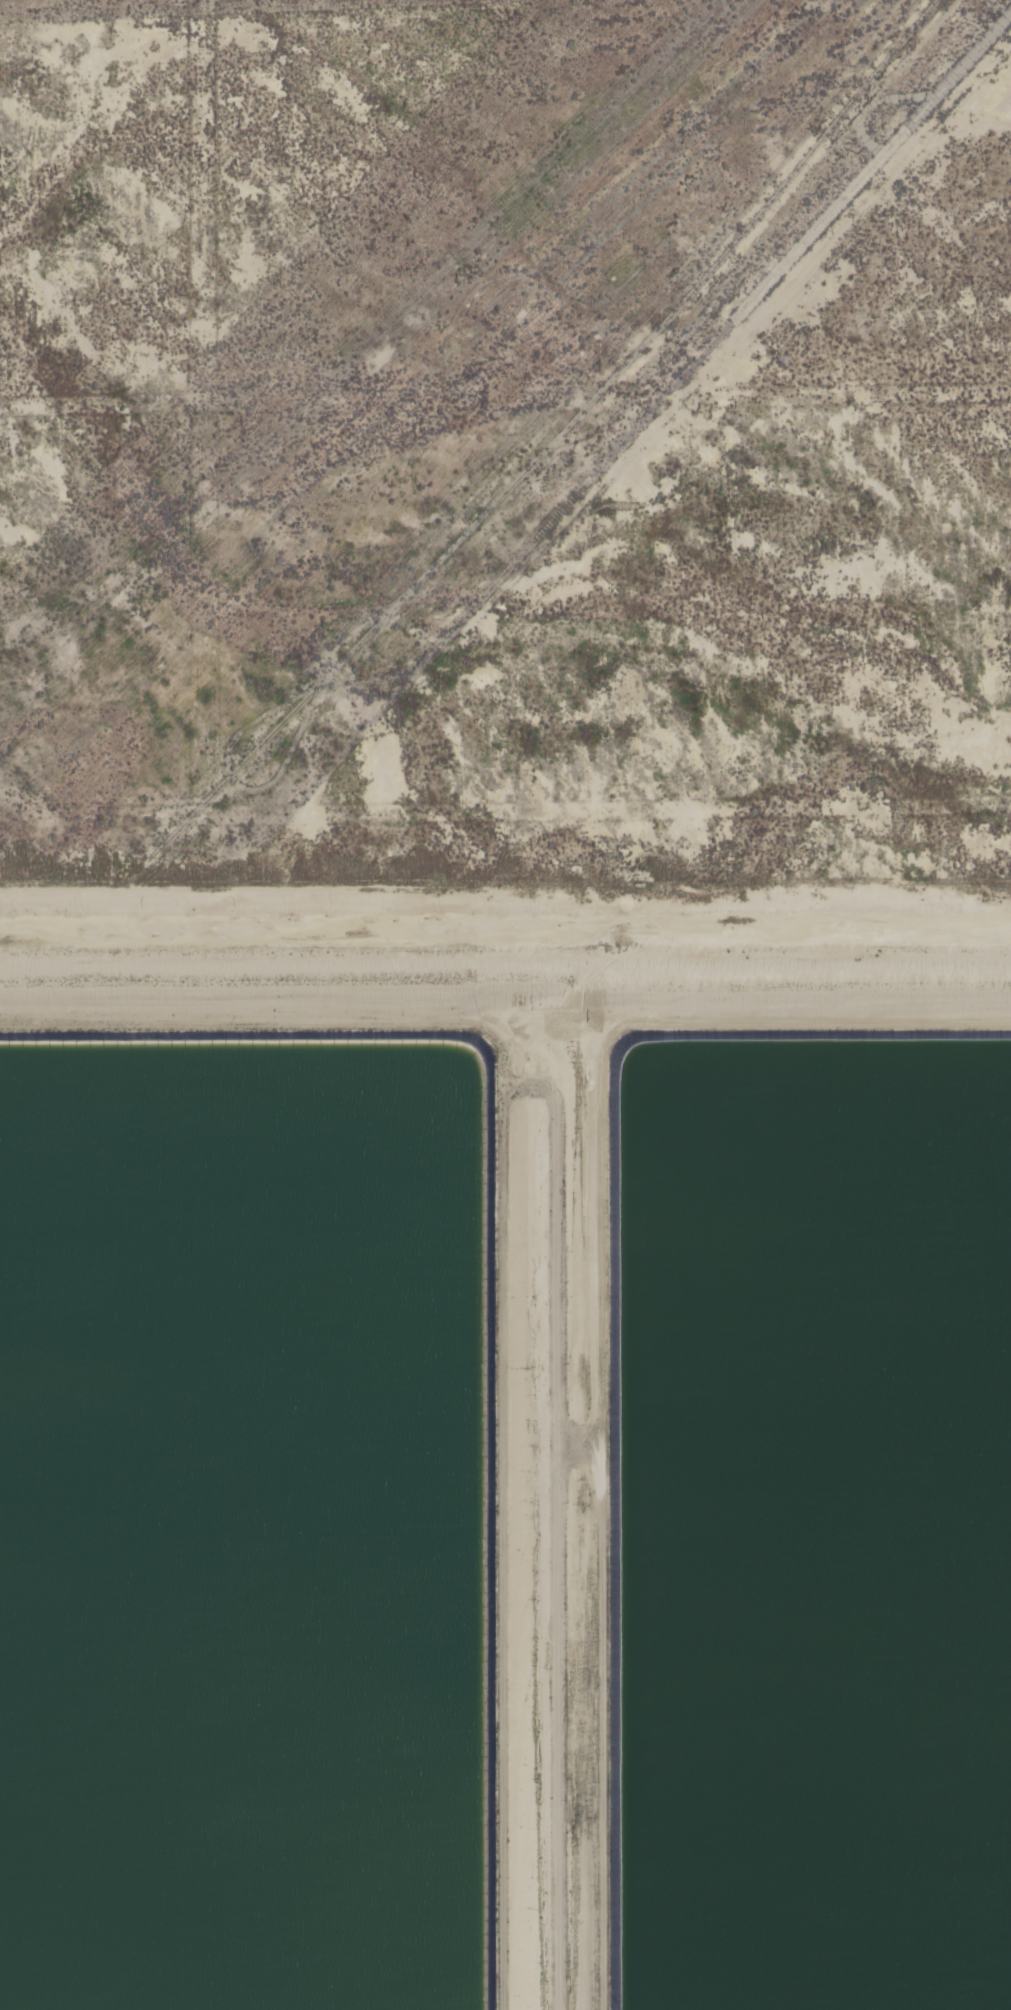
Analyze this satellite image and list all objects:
wastewater plant: (505, 1446)

